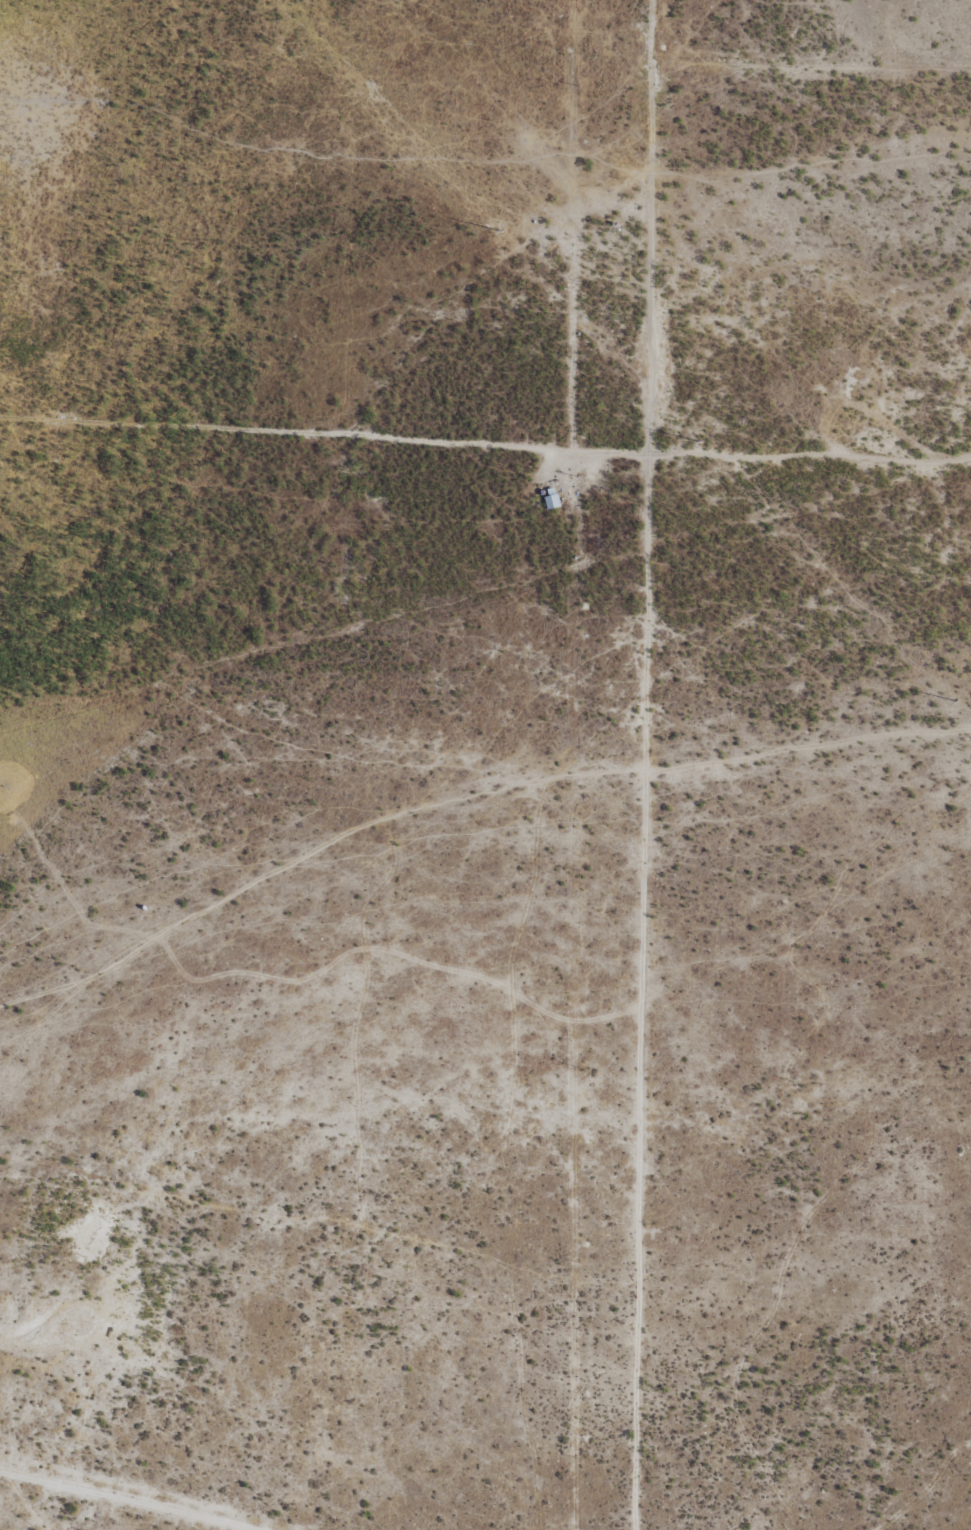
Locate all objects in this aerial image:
power tower: (501, 231)
road: (913, 423)
power tower: (700, 442)
power tower: (957, 701)

